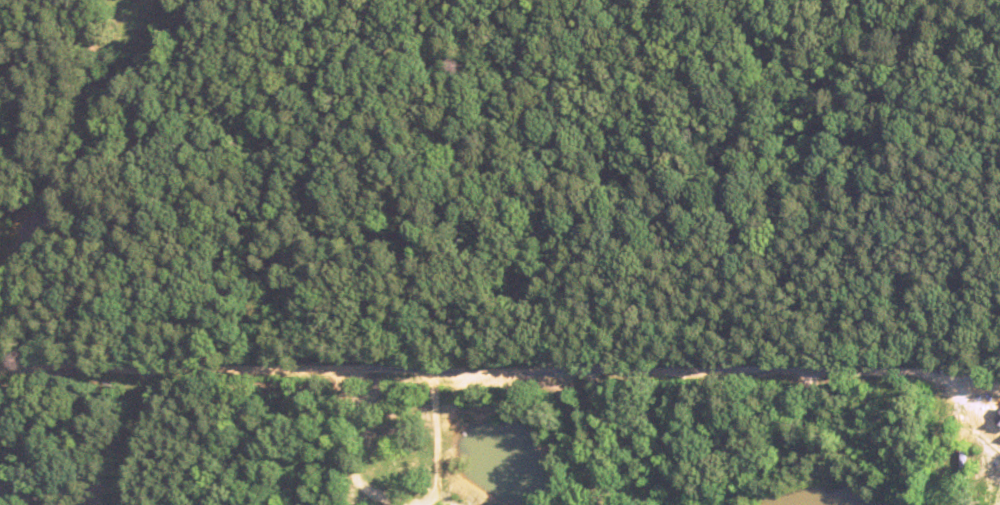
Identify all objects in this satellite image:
road: (465, 369)

